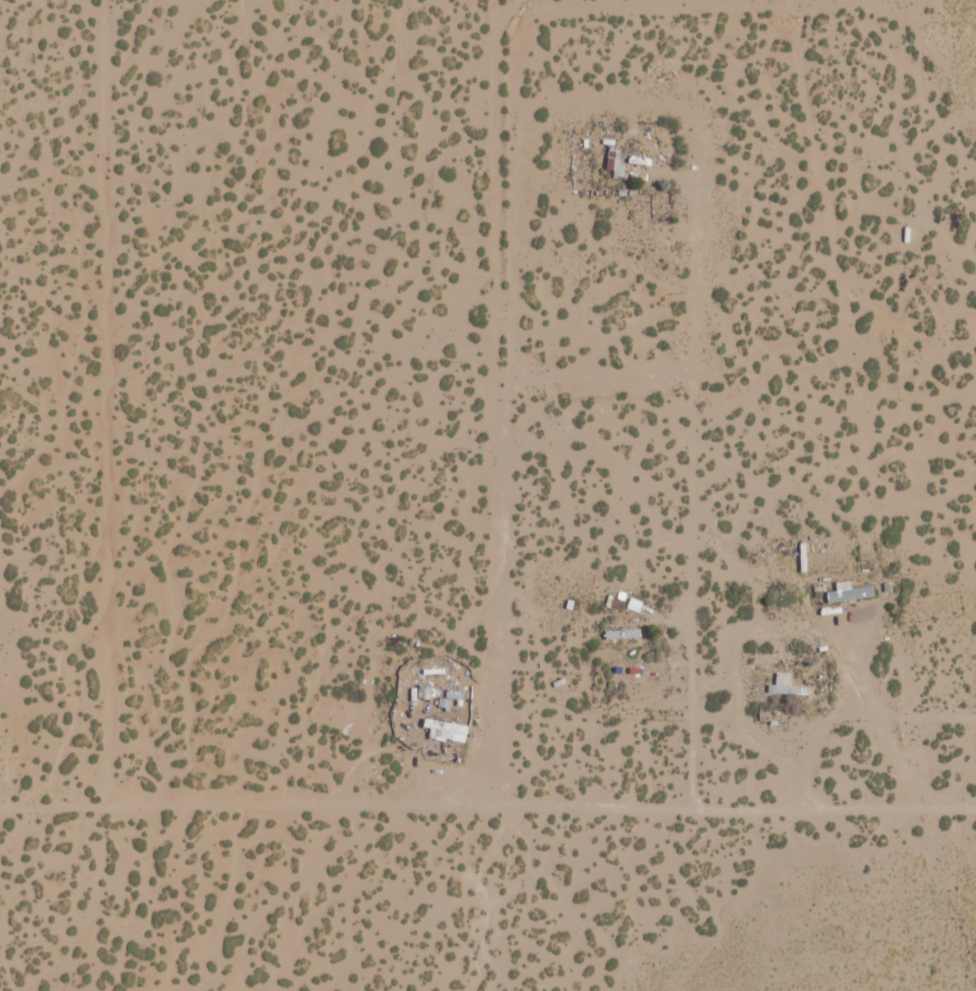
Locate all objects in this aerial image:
road: (339, 374)
road: (860, 495)
road: (924, 558)
road: (46, 579)
road: (625, 600)
road: (438, 725)
building: (447, 730)
road: (716, 926)

